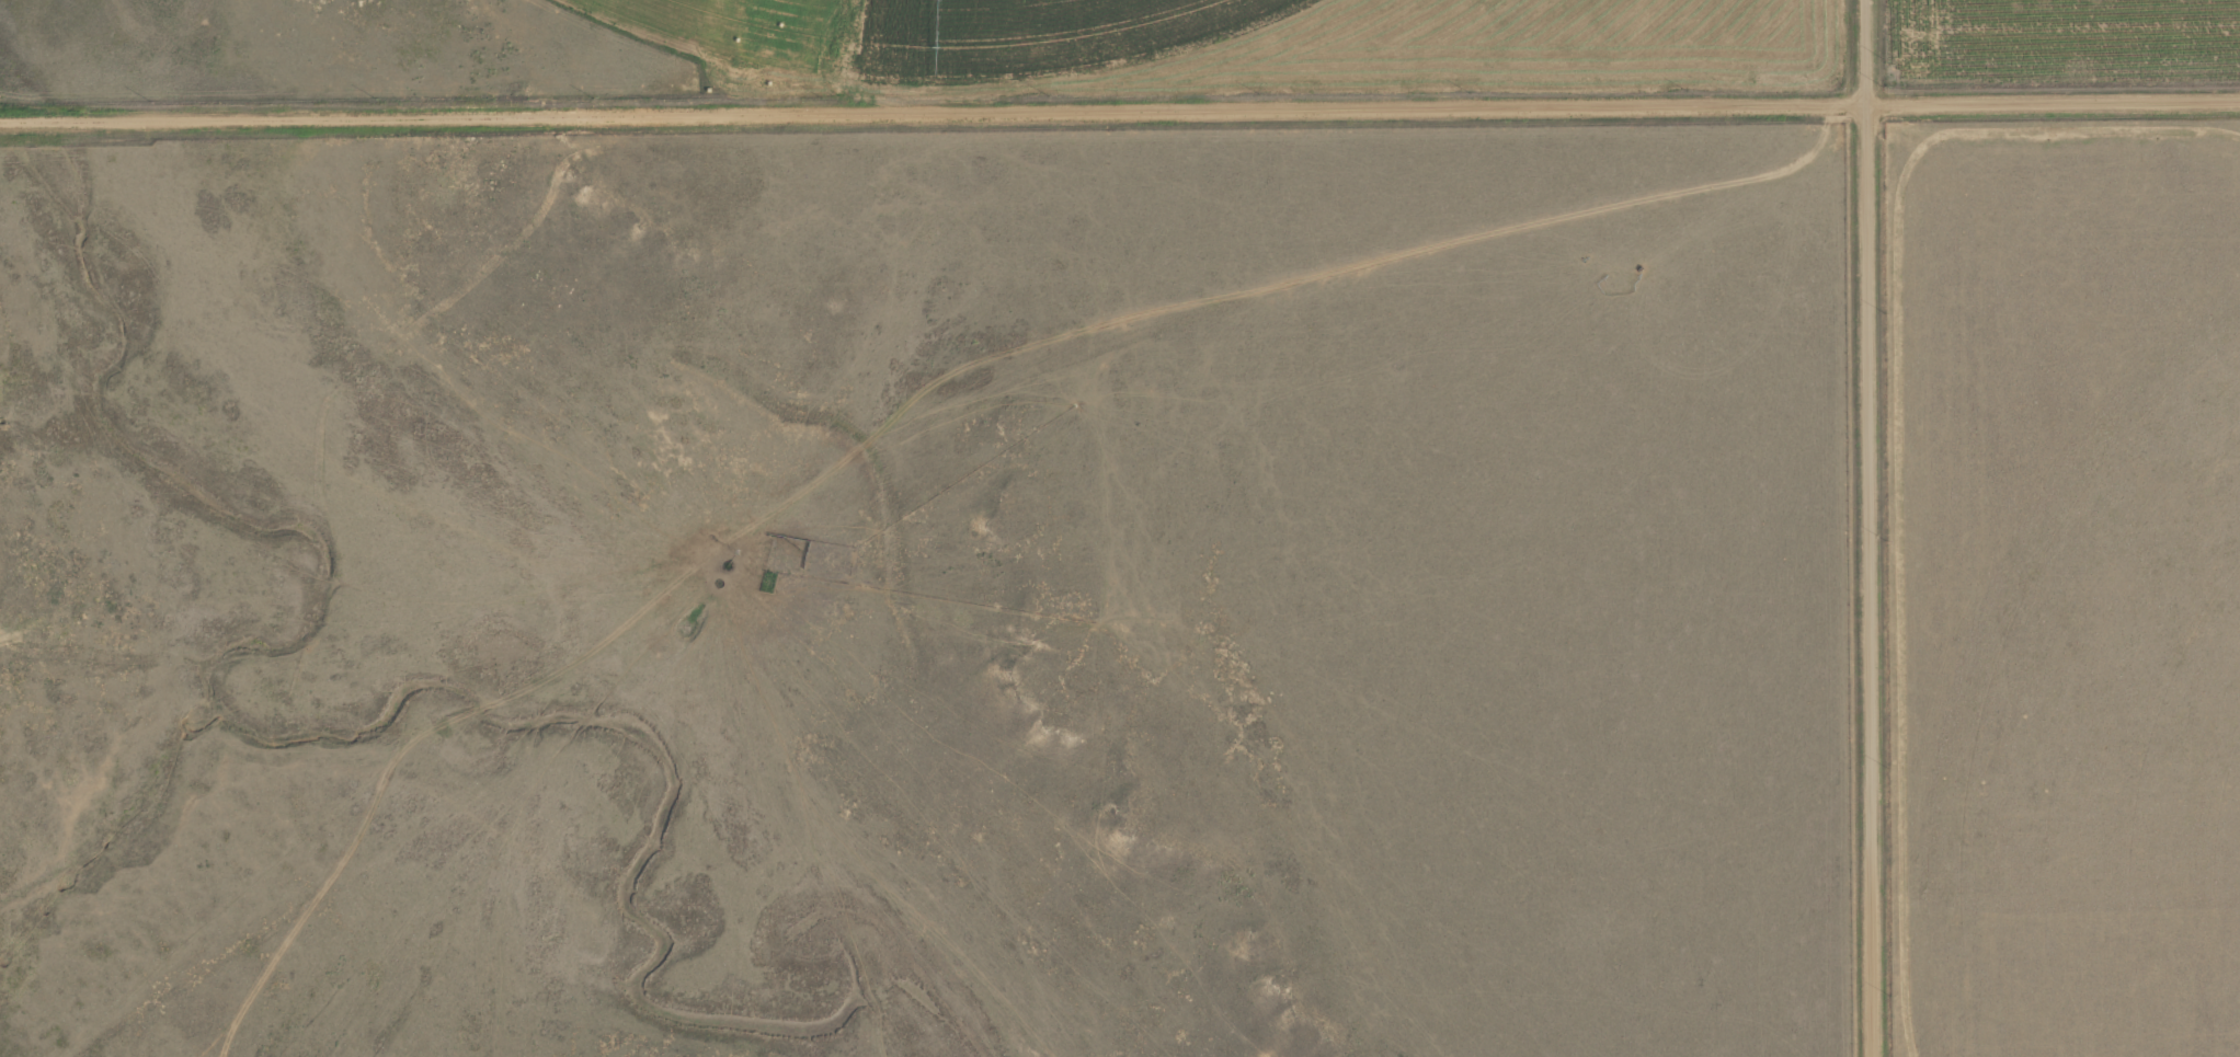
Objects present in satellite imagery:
road: (1120, 111)
road: (1870, 528)

